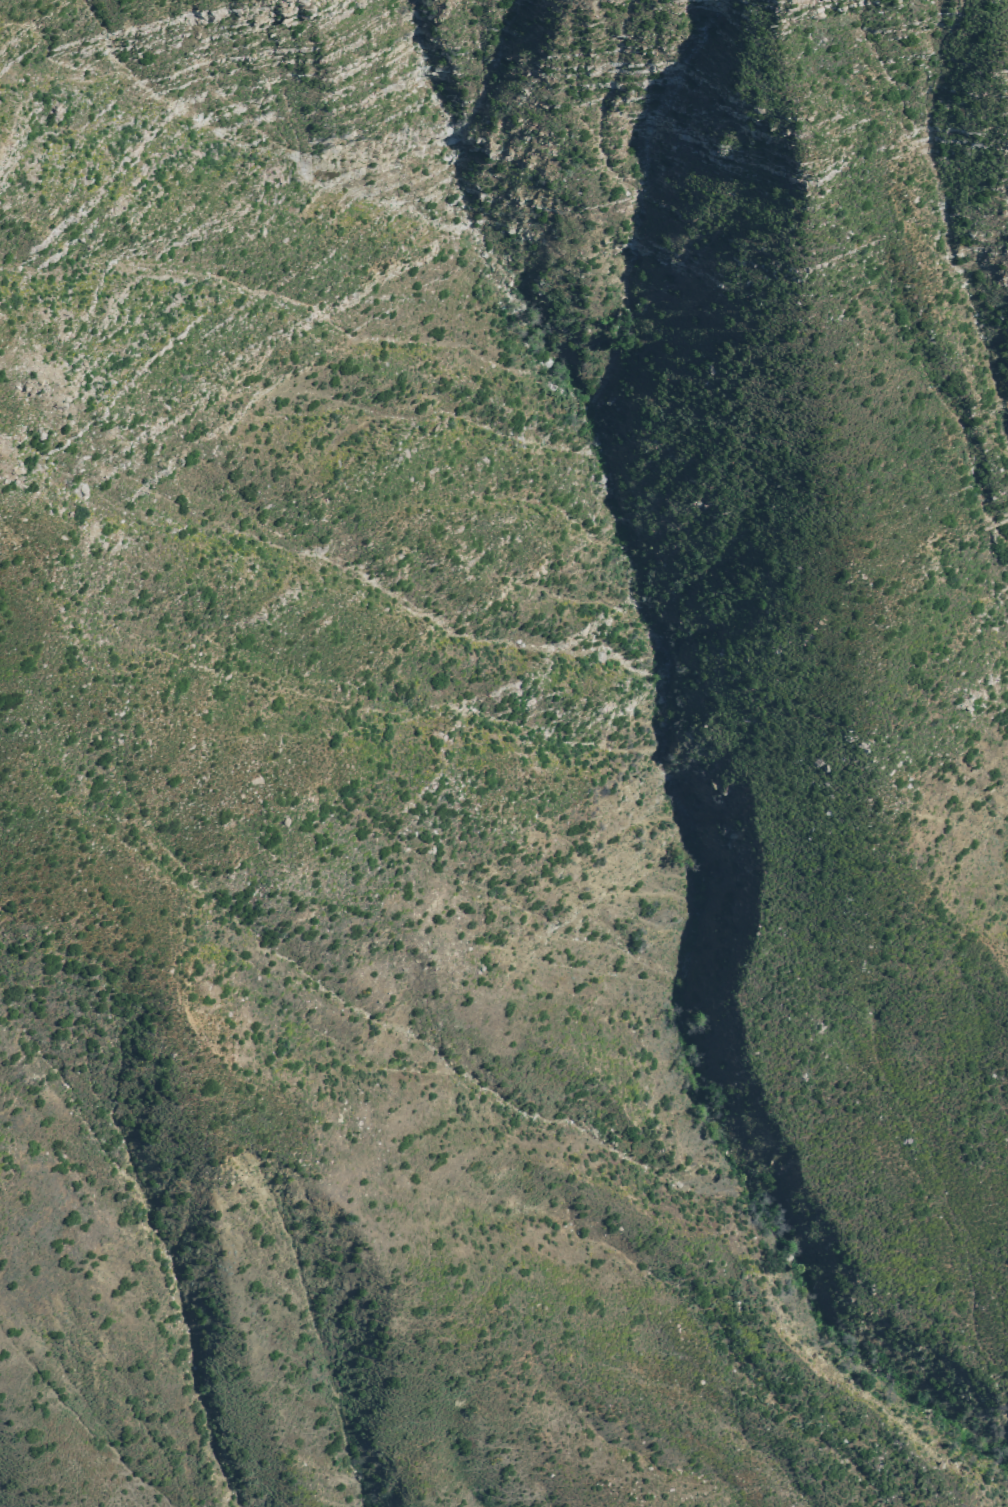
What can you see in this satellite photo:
road: (804, 1408)

